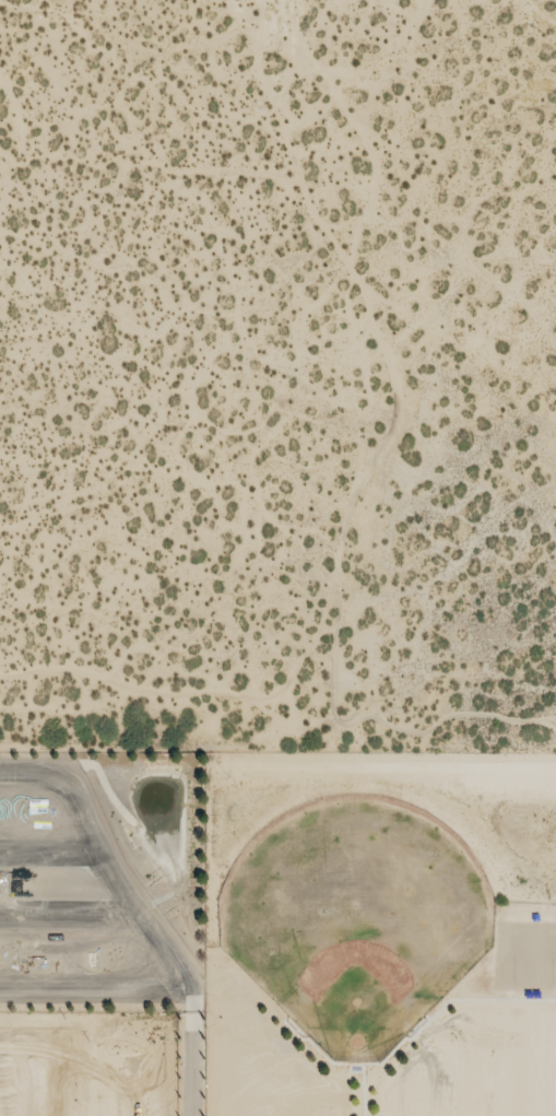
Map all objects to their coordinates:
park: (355, 917)
park: (525, 951)

